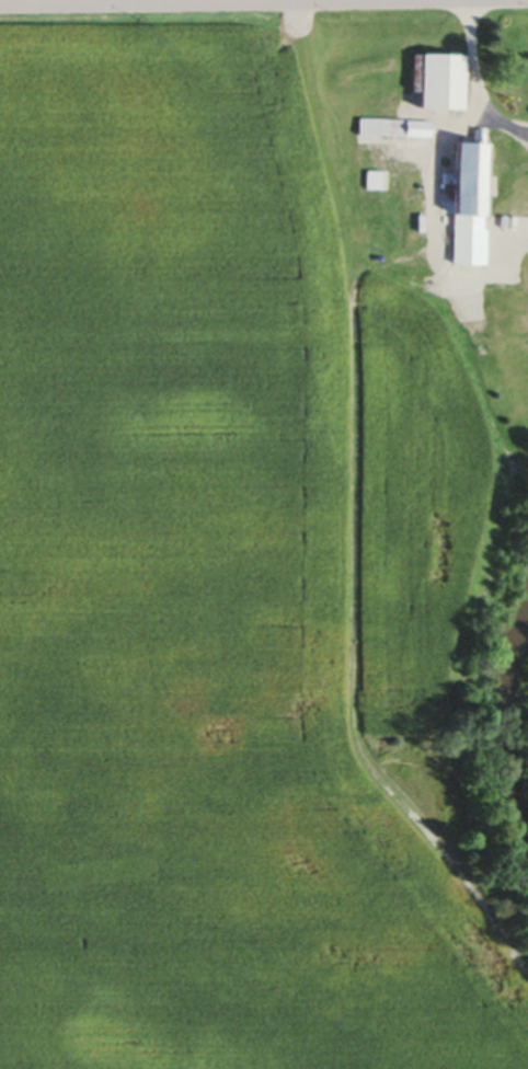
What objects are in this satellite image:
road: (263, 2)
road: (32, 3)
building: (437, 85)
building: (391, 135)
building: (463, 206)
river: (496, 717)

